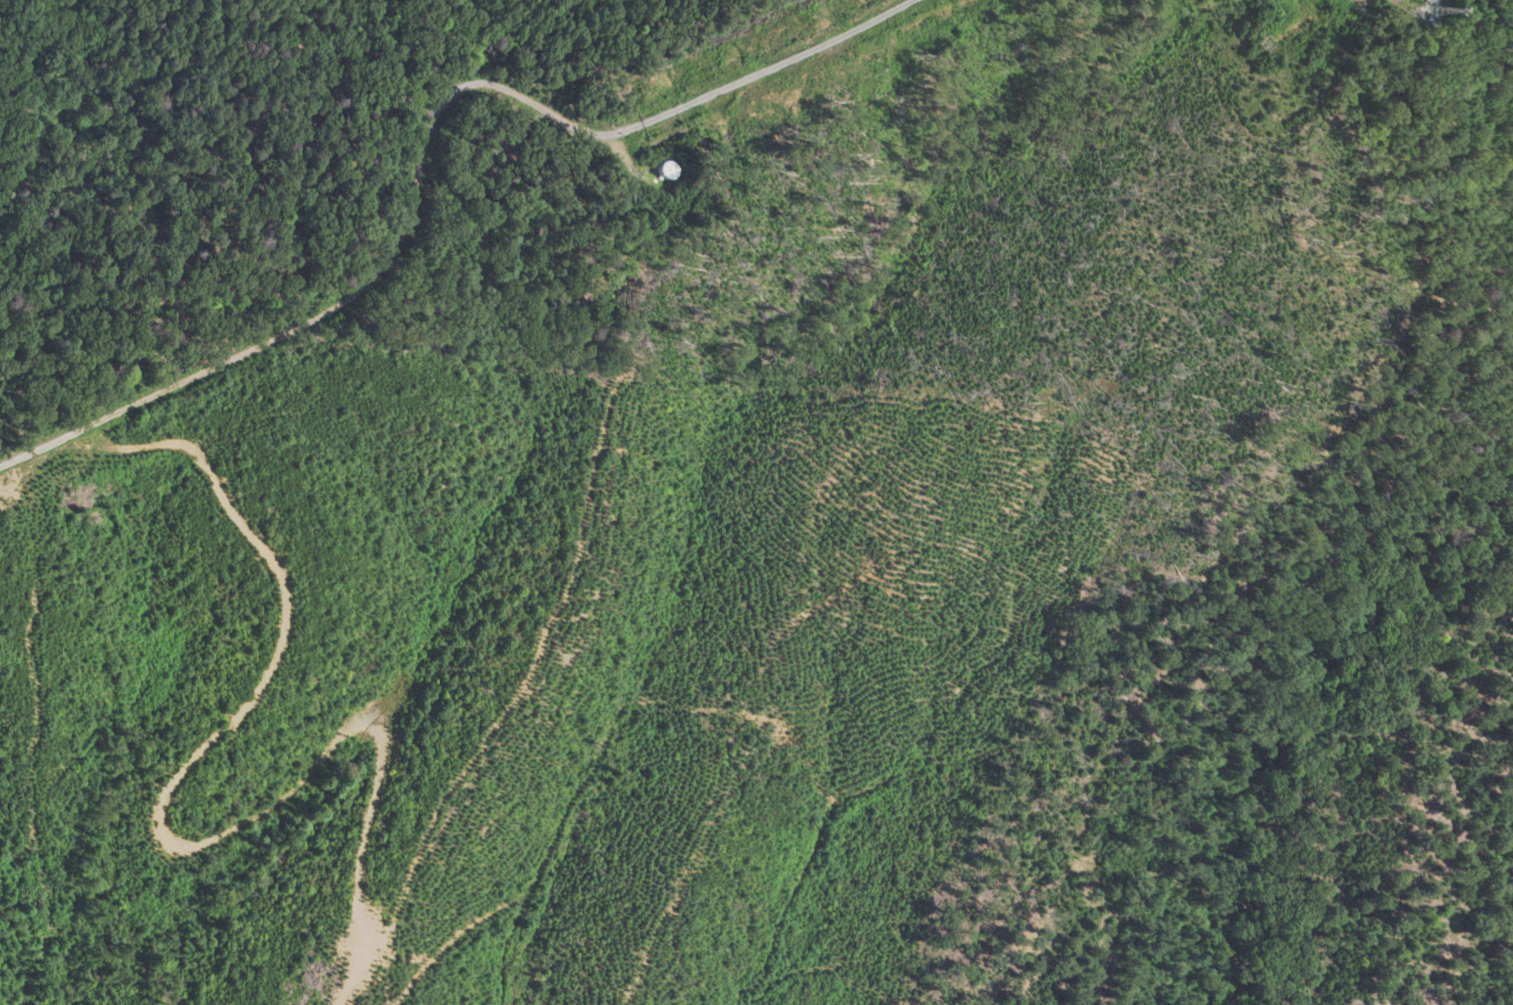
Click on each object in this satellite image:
building: (1431, 2)
road: (251, 39)
road: (426, 151)
building: (667, 171)
road: (175, 214)

